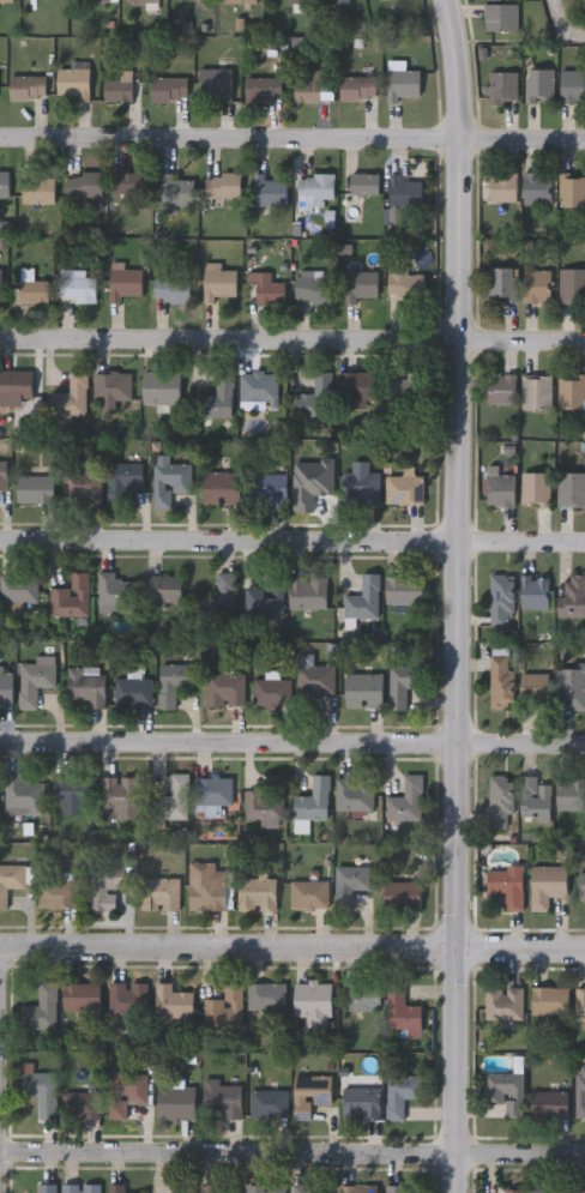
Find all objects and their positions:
building: (92, 0)
building: (6, 1)
building: (143, 1)
building: (241, 1)
building: (298, 1)
building: (500, 18)
road: (563, 20)
building: (73, 80)
building: (215, 84)
building: (403, 84)
building: (539, 85)
building: (573, 86)
building: (26, 88)
building: (308, 88)
building: (502, 88)
building: (169, 89)
building: (357, 89)
building: (119, 90)
building: (263, 90)
road: (292, 128)
building: (131, 183)
building: (4, 185)
building: (364, 185)
building: (84, 186)
building: (223, 186)
building: (502, 187)
building: (38, 188)
building: (537, 188)
building: (315, 189)
building: (175, 191)
building: (572, 191)
building: (269, 192)
building: (404, 194)
building: (218, 282)
building: (405, 282)
building: (0, 284)
building: (125, 284)
building: (501, 284)
building: (536, 285)
building: (572, 285)
building: (361, 287)
building: (77, 288)
building: (312, 289)
building: (171, 290)
building: (34, 293)
building: (270, 293)
road: (292, 329)
building: (14, 384)
building: (105, 386)
building: (356, 386)
building: (404, 386)
building: (161, 388)
building: (501, 388)
building: (257, 391)
building: (535, 392)
building: (571, 392)
building: (71, 397)
building: (315, 397)
building: (217, 398)
building: (2, 475)
building: (121, 480)
building: (168, 480)
building: (307, 481)
building: (360, 486)
building: (82, 487)
building: (269, 487)
building: (404, 488)
building: (35, 489)
building: (222, 489)
building: (535, 489)
building: (571, 489)
building: (500, 490)
road: (291, 530)
building: (18, 589)
building: (163, 589)
building: (403, 590)
building: (116, 594)
building: (307, 594)
building: (533, 594)
road: (457, 596)
building: (71, 597)
building: (572, 597)
building: (265, 598)
building: (218, 599)
building: (363, 599)
building: (501, 601)
building: (174, 679)
building: (314, 680)
building: (35, 681)
building: (500, 682)
building: (402, 683)
building: (86, 686)
building: (571, 687)
building: (6, 688)
building: (225, 689)
building: (363, 689)
building: (533, 689)
building: (133, 692)
building: (271, 693)
road: (292, 731)
building: (72, 789)
building: (212, 790)
building: (24, 793)
building: (569, 793)
building: (352, 794)
building: (119, 797)
building: (173, 800)
building: (532, 800)
building: (265, 801)
building: (313, 801)
building: (405, 801)
building: (500, 802)
building: (11, 881)
building: (348, 885)
building: (547, 885)
building: (105, 886)
building: (506, 886)
building: (580, 886)
building: (207, 887)
building: (56, 894)
building: (159, 894)
building: (258, 894)
building: (308, 894)
building: (402, 896)
road: (291, 946)
building: (80, 995)
building: (265, 996)
building: (360, 996)
building: (126, 998)
building: (548, 1000)
building: (171, 1002)
building: (501, 1002)
building: (579, 1002)
building: (312, 1004)
building: (41, 1006)
building: (223, 1007)
building: (399, 1010)
building: (38, 1090)
building: (503, 1090)
building: (579, 1090)
building: (310, 1091)
building: (123, 1092)
building: (399, 1093)
building: (221, 1099)
building: (175, 1102)
building: (266, 1103)
building: (358, 1103)
building: (548, 1103)
building: (83, 1105)
road: (292, 1143)
building: (43, 1188)
building: (79, 1188)
building: (115, 1188)
building: (185, 1188)
building: (218, 1188)
building: (264, 1188)
building: (300, 1188)
building: (357, 1188)
building: (393, 1188)
building: (511, 1191)
building: (543, 1191)
building: (579, 1191)

